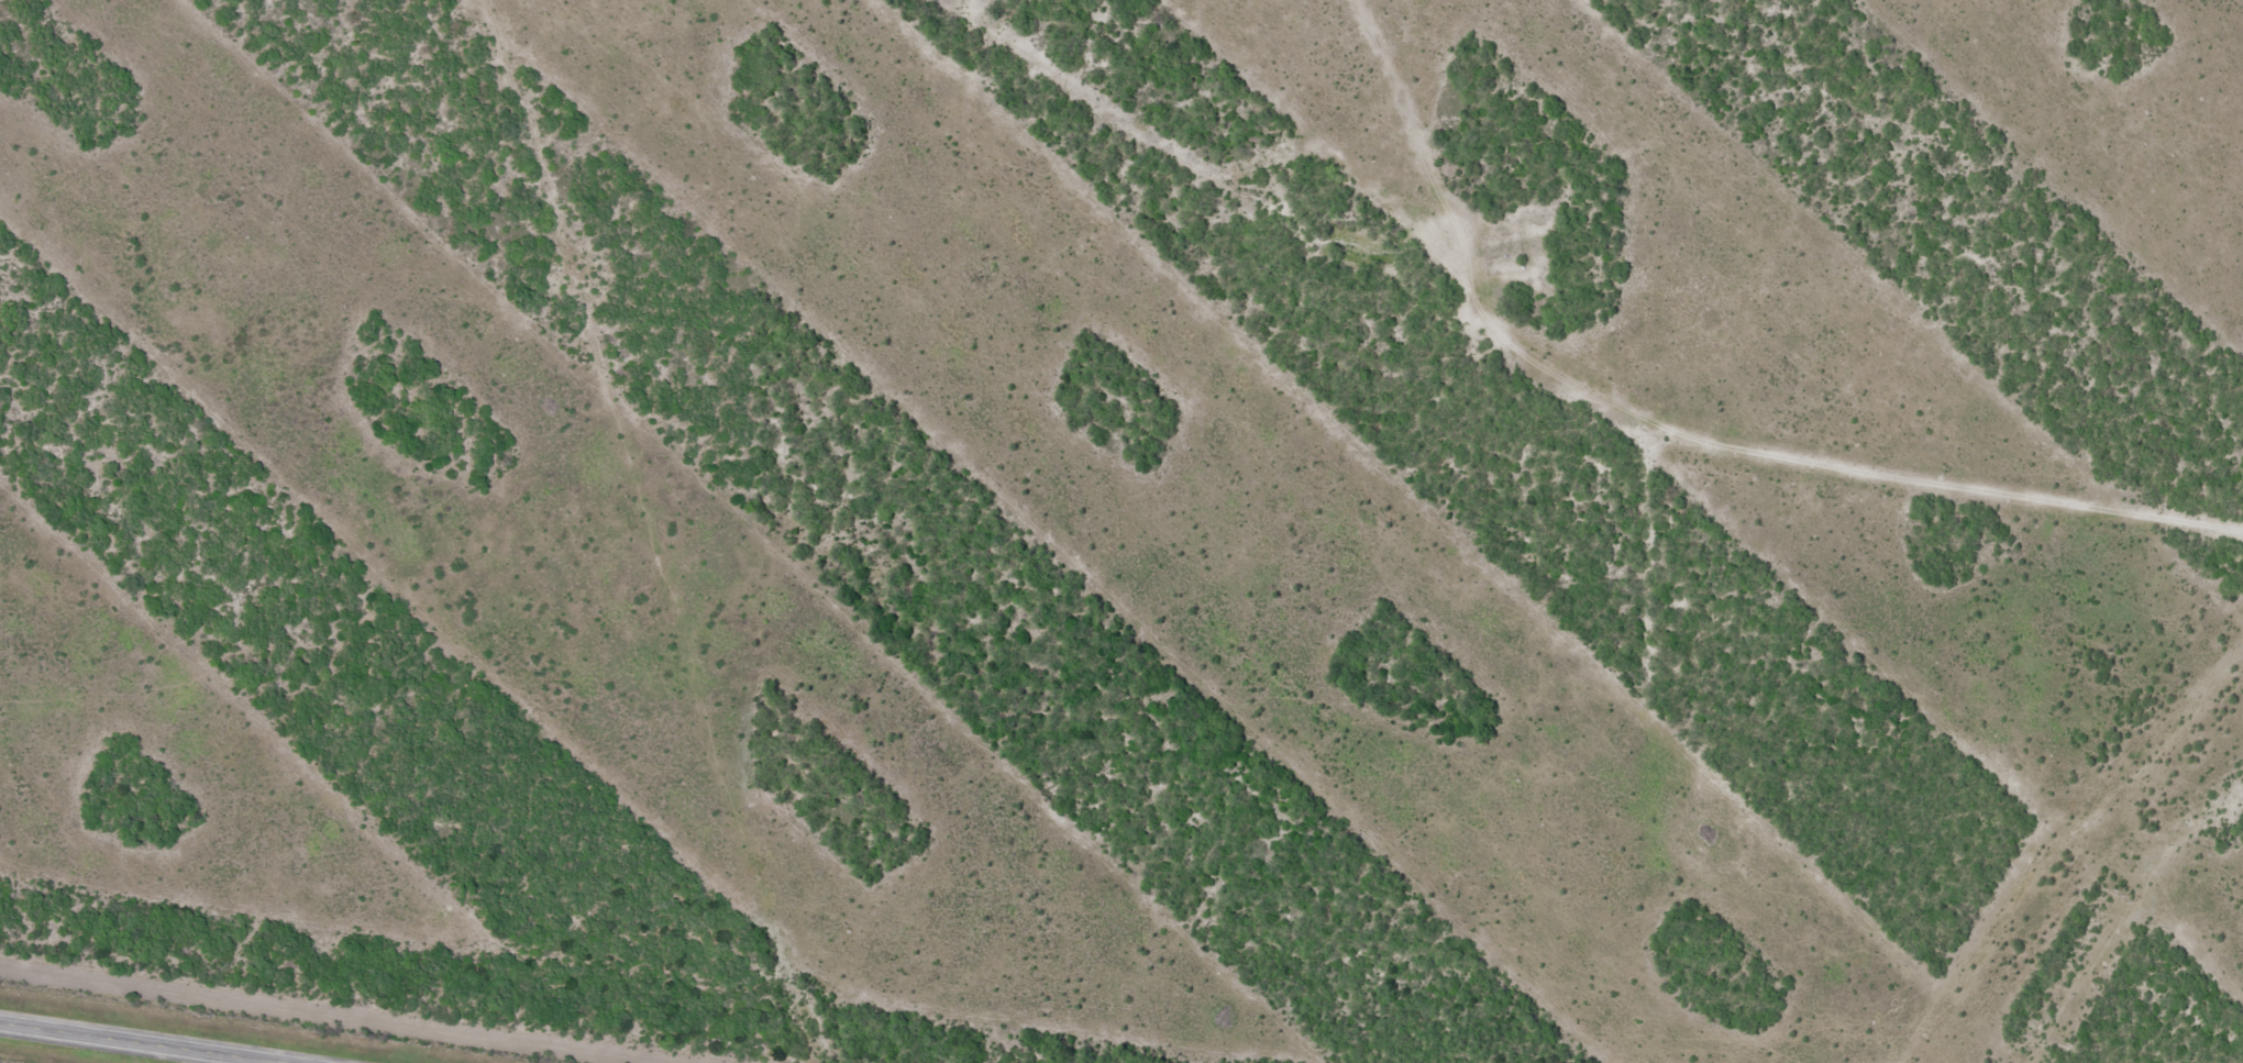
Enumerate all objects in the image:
power tower: (2133, 895)
road: (141, 1042)

